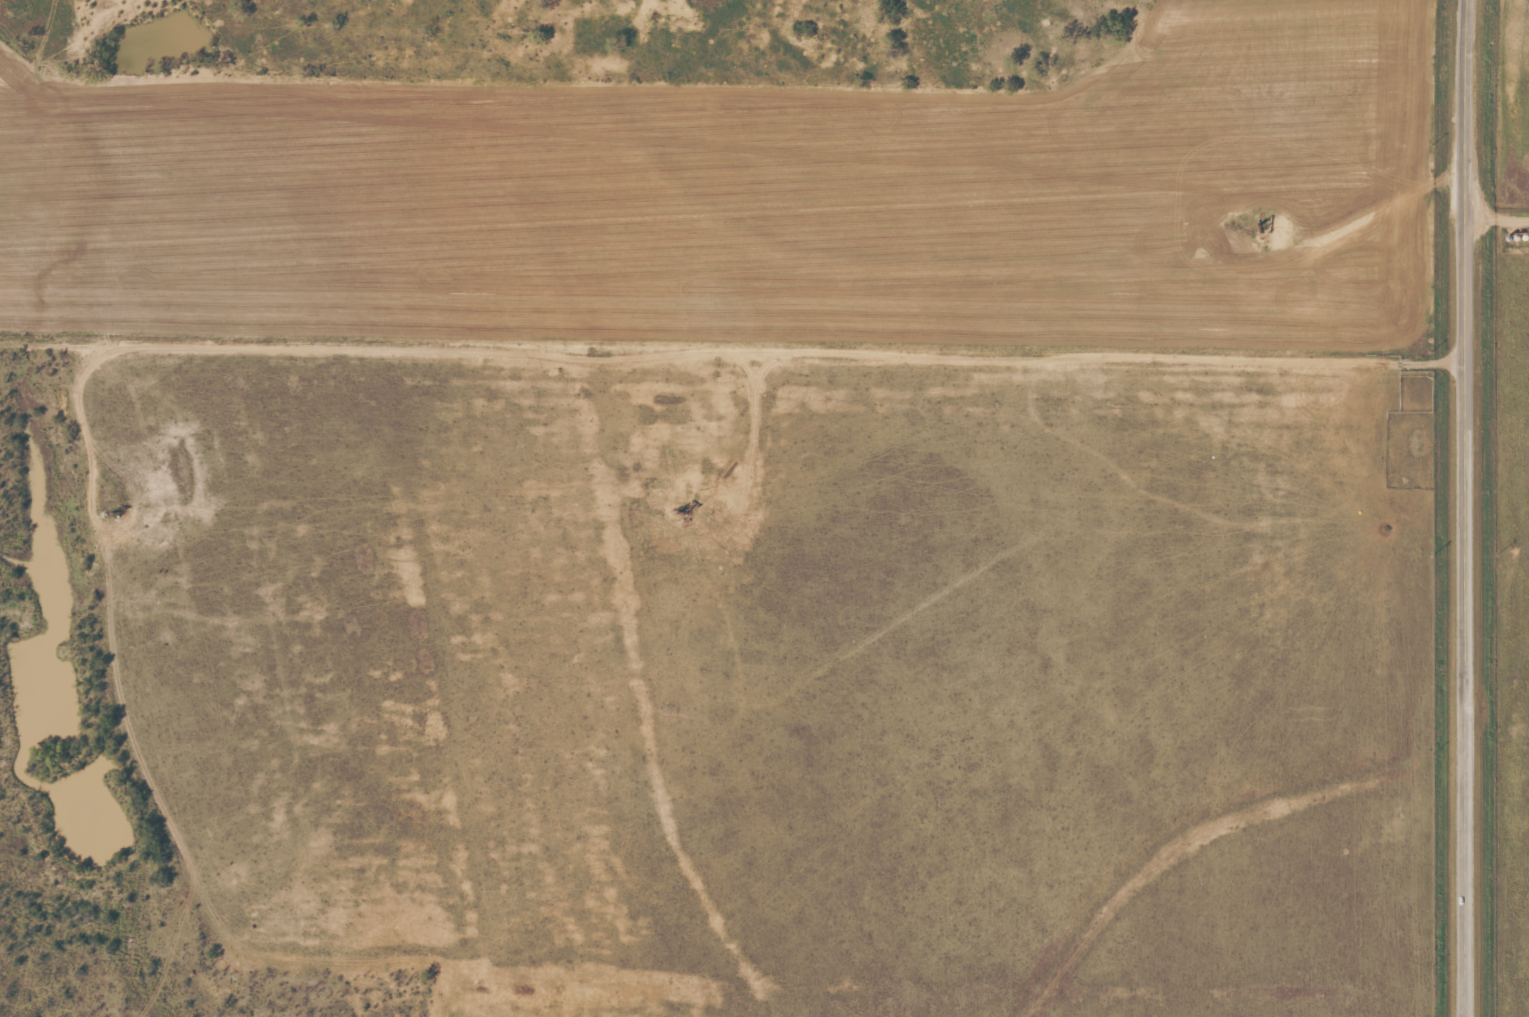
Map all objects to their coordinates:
road: (1340, 22)
road: (1497, 196)
road: (1466, 508)

